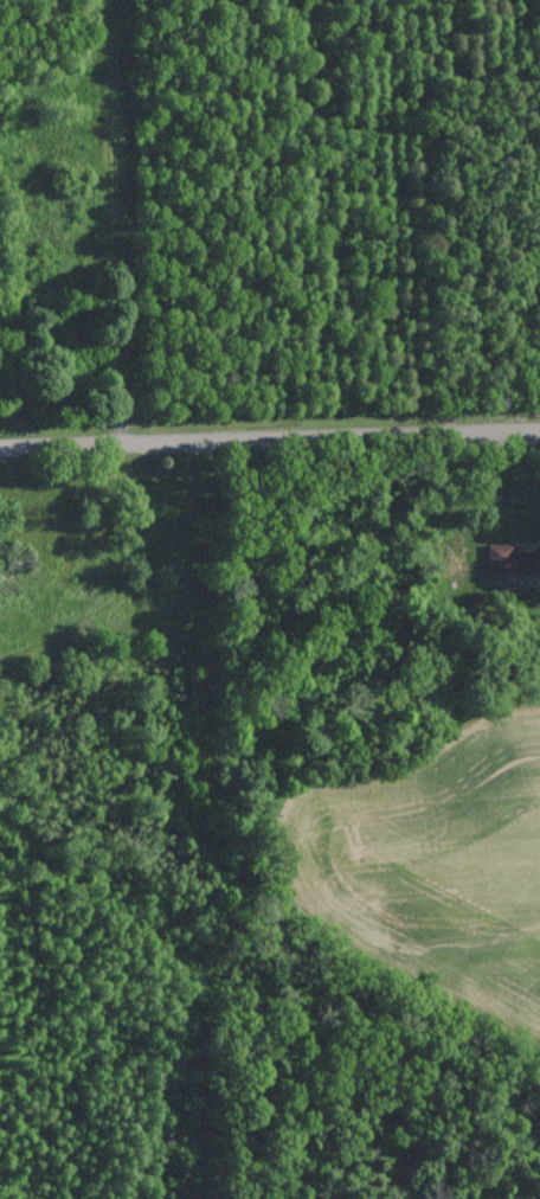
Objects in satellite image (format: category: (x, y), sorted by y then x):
road: (269, 435)
building: (512, 560)

